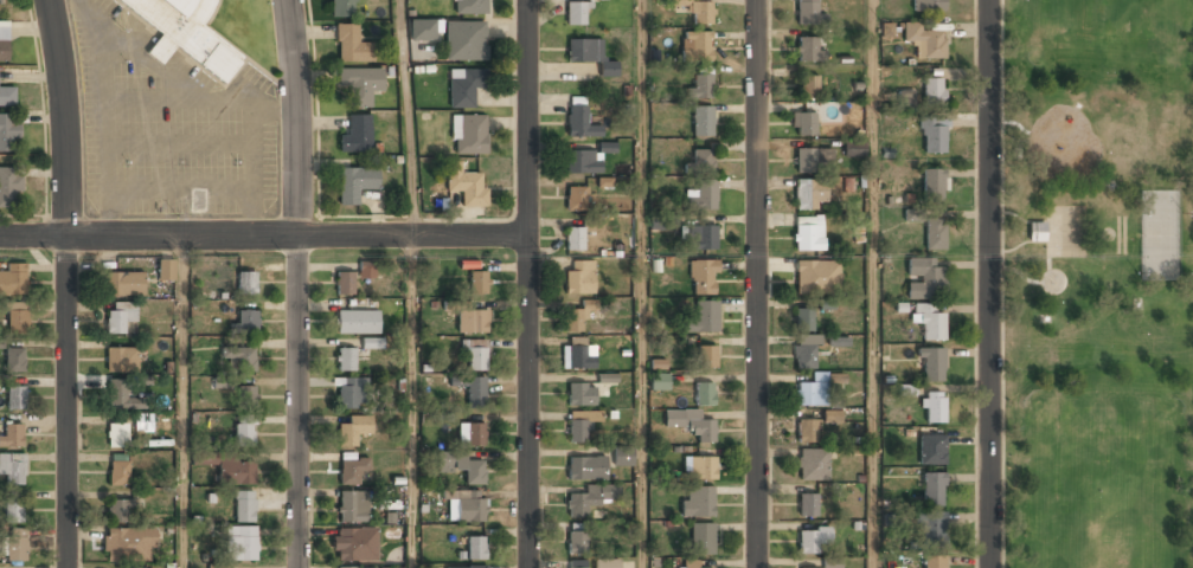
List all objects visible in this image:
building: (1, 2)
building: (928, 6)
building: (469, 7)
building: (342, 8)
building: (699, 12)
building: (807, 12)
building: (576, 13)
building: (886, 28)
building: (422, 30)
building: (187, 33)
building: (464, 40)
building: (923, 40)
building: (351, 44)
building: (695, 45)
building: (809, 49)
building: (4, 51)
building: (589, 54)
building: (360, 84)
building: (463, 86)
building: (700, 86)
building: (808, 86)
building: (934, 91)
building: (7, 96)
building: (905, 99)
road: (405, 117)
building: (703, 121)
building: (579, 122)
building: (804, 124)
building: (8, 131)
building: (355, 135)
building: (469, 135)
building: (934, 136)
building: (853, 148)
building: (701, 160)
building: (813, 160)
building: (583, 162)
building: (354, 183)
building: (932, 185)
building: (467, 186)
building: (9, 187)
building: (809, 195)
building: (701, 196)
building: (576, 199)
road: (1028, 199)
building: (913, 214)
building: (1037, 232)
building: (807, 234)
building: (935, 234)
building: (1159, 235)
park: (1159, 235)
road: (262, 237)
building: (701, 237)
building: (575, 239)
building: (366, 270)
building: (165, 271)
building: (579, 277)
building: (703, 277)
building: (816, 278)
building: (924, 278)
building: (13, 279)
road: (1027, 280)
road: (66, 283)
building: (246, 283)
road: (296, 283)
building: (345, 283)
building: (477, 283)
park: (1099, 283)
building: (123, 284)
road: (525, 284)
road: (641, 284)
road: (757, 284)
road: (873, 284)
road: (990, 284)
road: (1002, 284)
building: (14, 305)
building: (120, 316)
building: (703, 317)
building: (575, 319)
building: (803, 319)
building: (15, 321)
building: (246, 321)
building: (358, 322)
building: (472, 322)
building: (930, 323)
building: (838, 341)
building: (1, 343)
building: (372, 343)
building: (804, 351)
building: (577, 355)
building: (476, 356)
building: (239, 357)
building: (706, 357)
building: (14, 360)
building: (121, 360)
building: (346, 360)
building: (932, 364)
building: (659, 381)
building: (473, 390)
building: (812, 390)
building: (349, 393)
building: (581, 394)
building: (704, 394)
building: (120, 396)
building: (246, 396)
building: (15, 398)
road: (412, 401)
road: (182, 402)
building: (932, 407)
building: (832, 415)
building: (142, 422)
building: (581, 424)
building: (352, 430)
building: (244, 431)
building: (701, 431)
building: (806, 431)
building: (116, 434)
building: (475, 434)
building: (12, 435)
building: (931, 447)
building: (623, 457)
building: (813, 464)
building: (462, 466)
building: (13, 467)
building: (586, 467)
building: (701, 467)
building: (353, 470)
building: (118, 471)
building: (236, 472)
building: (932, 489)
building: (590, 498)
building: (697, 499)
building: (808, 505)
building: (244, 506)
building: (352, 506)
building: (466, 506)
building: (14, 509)
building: (122, 510)
building: (932, 529)
building: (701, 537)
building: (813, 540)
building: (577, 542)
building: (240, 543)
building: (129, 544)
building: (15, 546)
building: (355, 546)
building: (475, 547)
building: (934, 561)
building: (691, 563)
building: (832, 563)
building: (577, 564)
building: (607, 564)
building: (217, 566)
building: (351, 567)
building: (390, 567)
building: (466, 567)
building: (804, 567)

